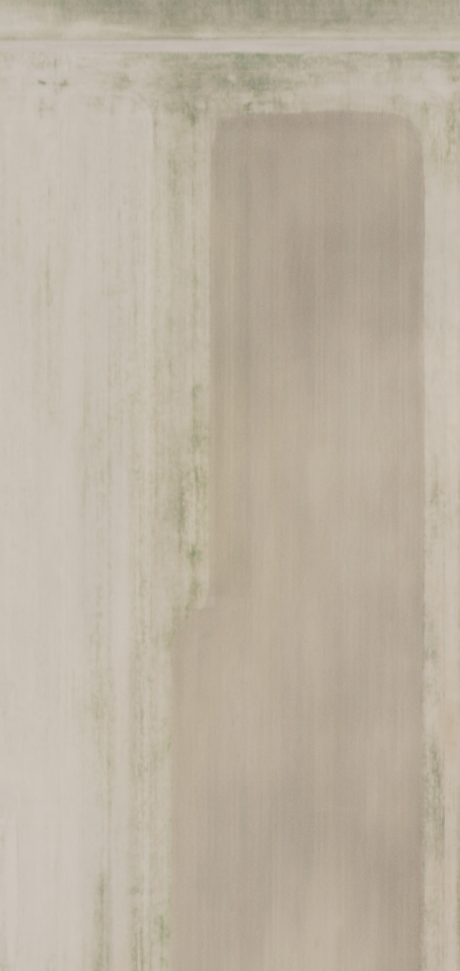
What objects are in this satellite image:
road: (230, 43)

